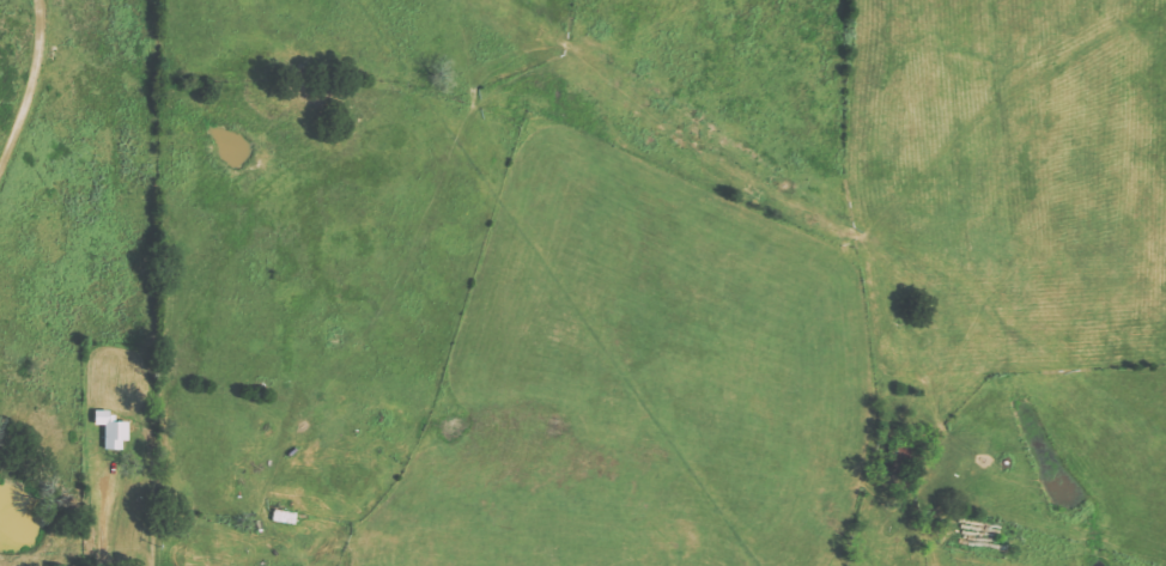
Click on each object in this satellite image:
building: (114, 431)

